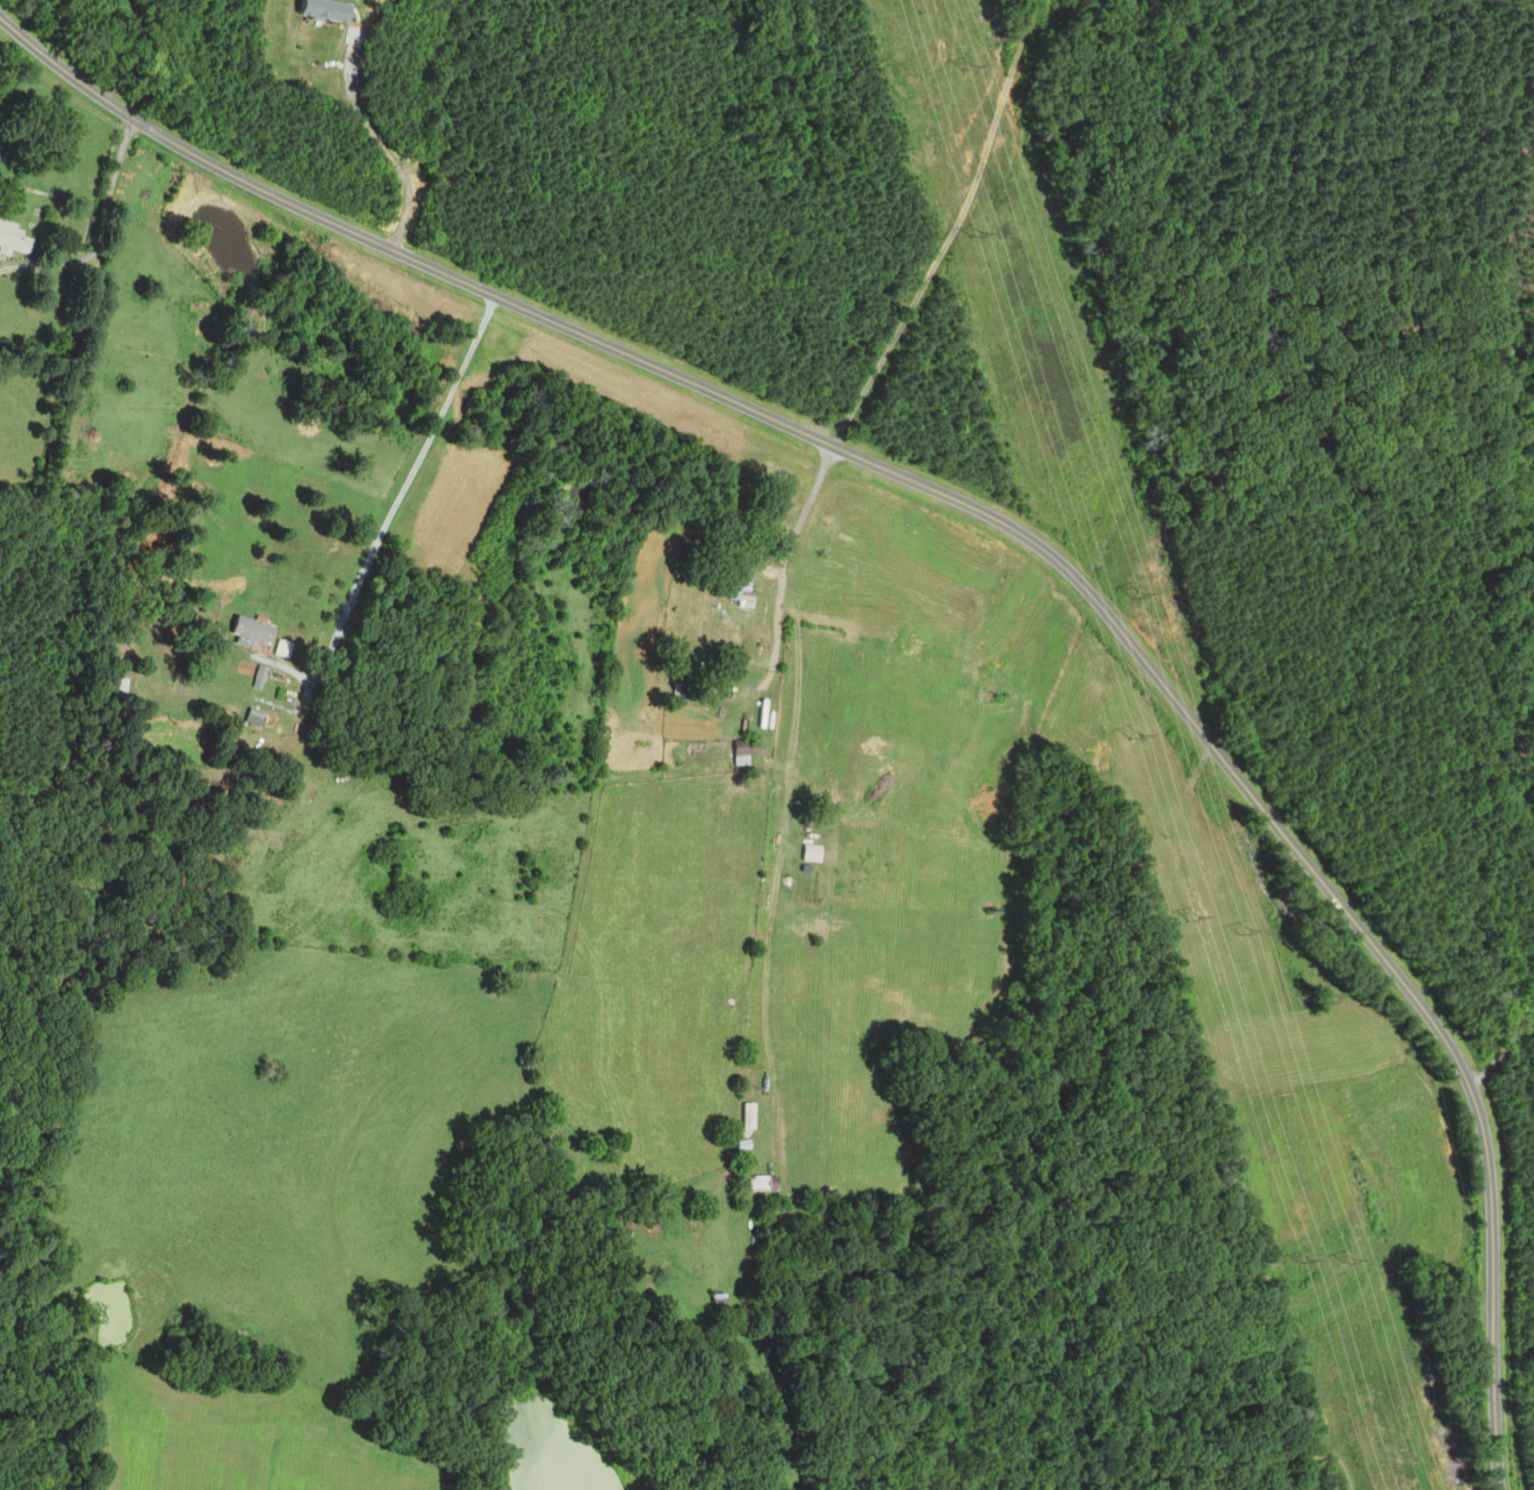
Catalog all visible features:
building: (327, 9)
power tower: (964, 67)
road: (381, 150)
road: (98, 229)
power tower: (985, 238)
building: (13, 239)
road: (901, 325)
road: (411, 480)
road: (1010, 525)
building: (741, 582)
power tower: (1133, 592)
building: (252, 632)
building: (120, 687)
building: (679, 690)
building: (254, 717)
power tower: (1149, 734)
building: (628, 750)
building: (745, 750)
power tower: (1199, 918)
power tower: (1241, 928)
road: (1503, 1051)
building: (748, 1115)
building: (607, 1140)
building: (762, 1183)
power tower: (1346, 1259)
power tower: (1316, 1262)
building: (719, 1302)

